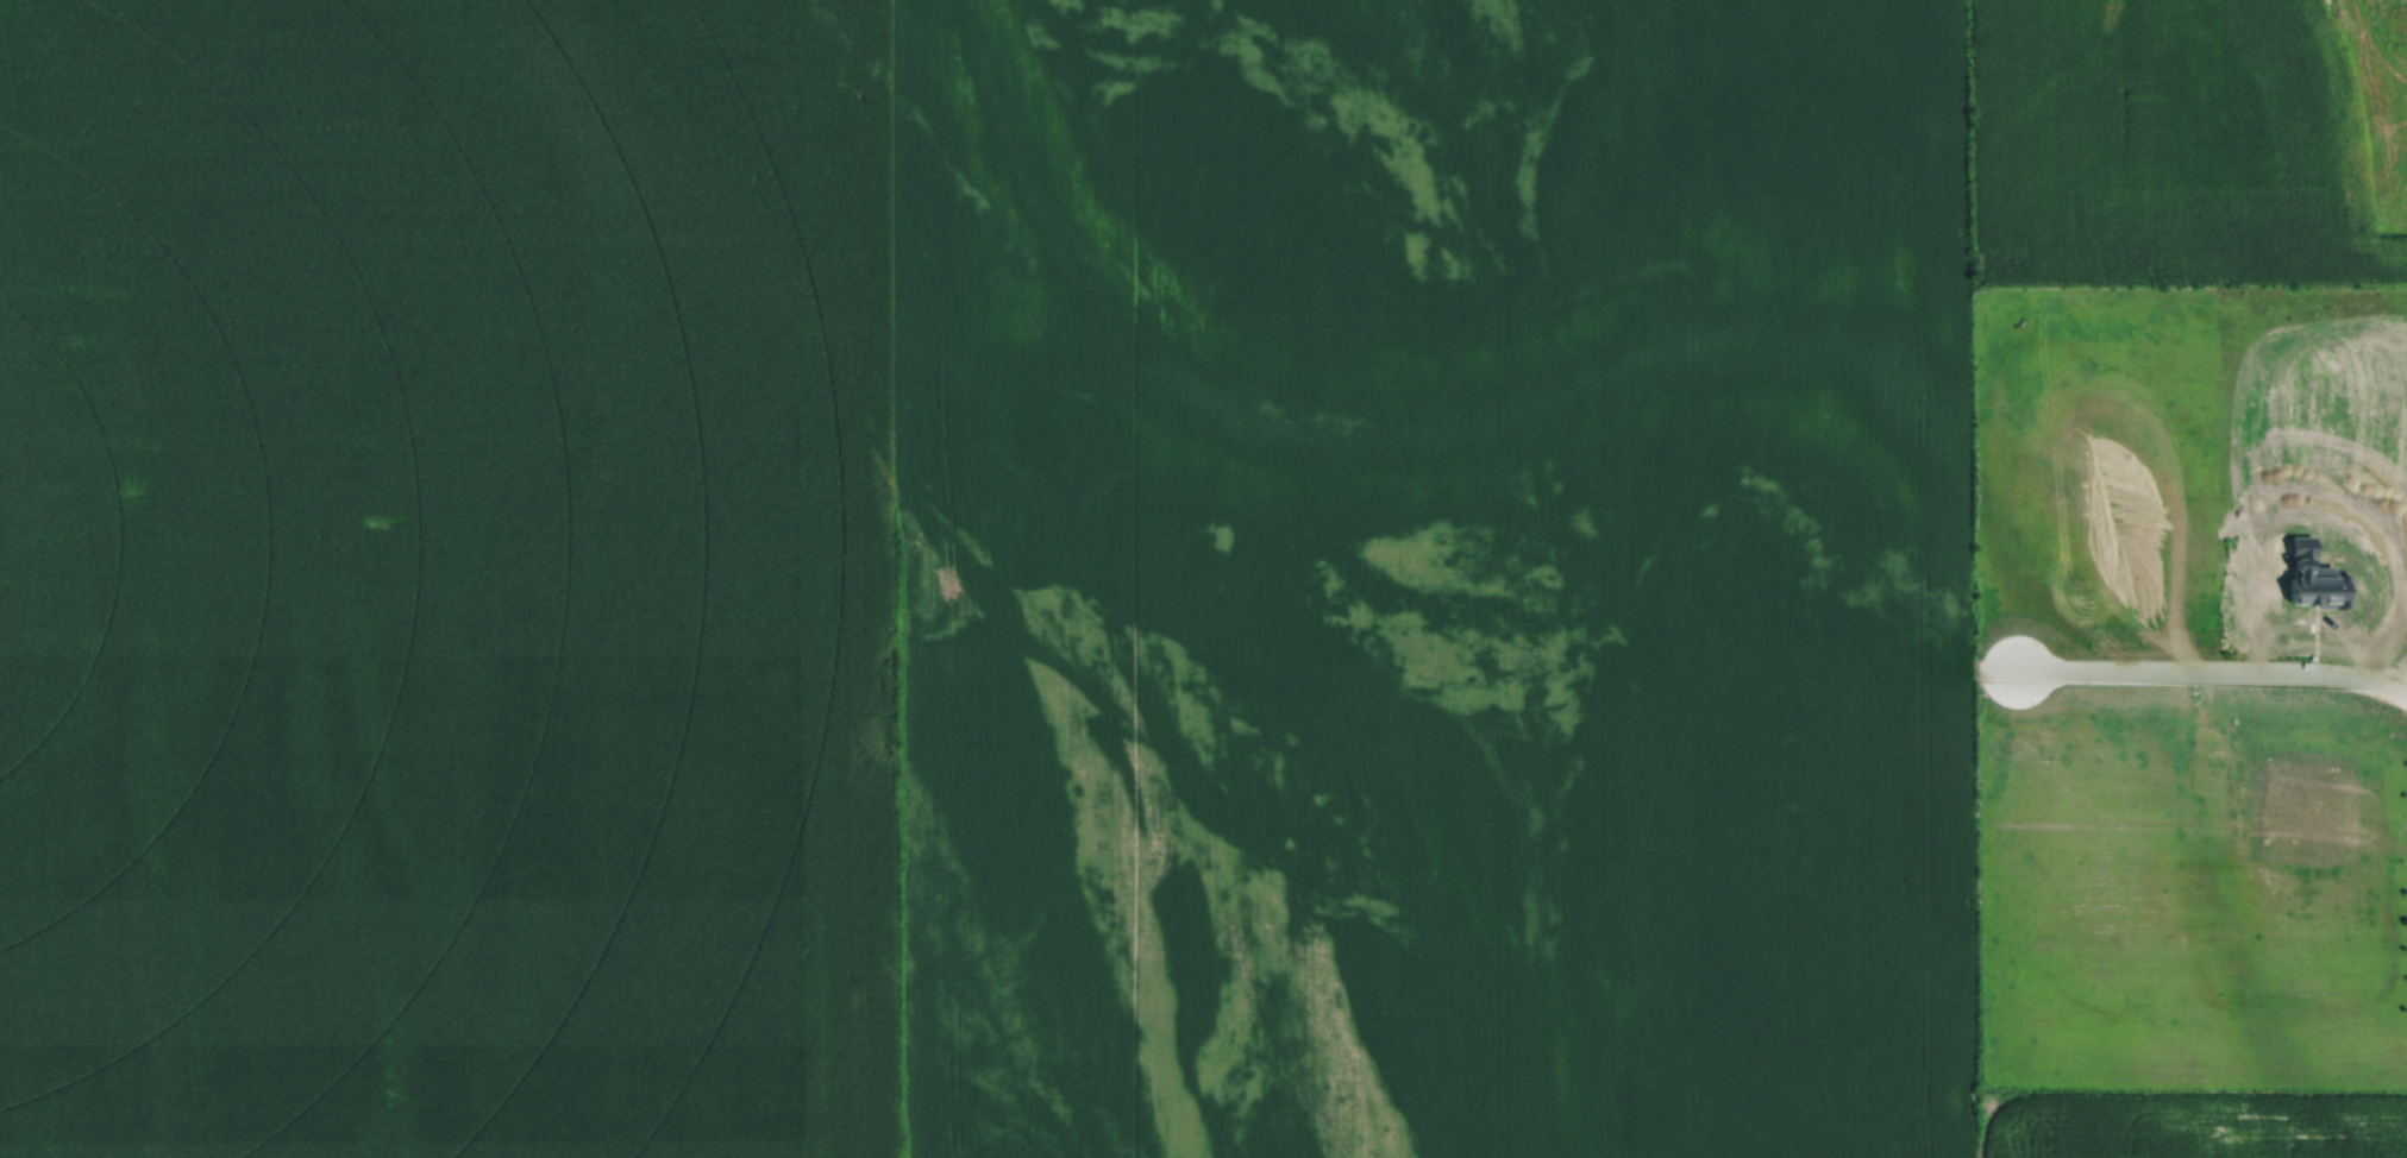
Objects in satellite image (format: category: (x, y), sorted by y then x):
road: (2270, 599)
road: (2213, 672)
crop: (2192, 1122)

